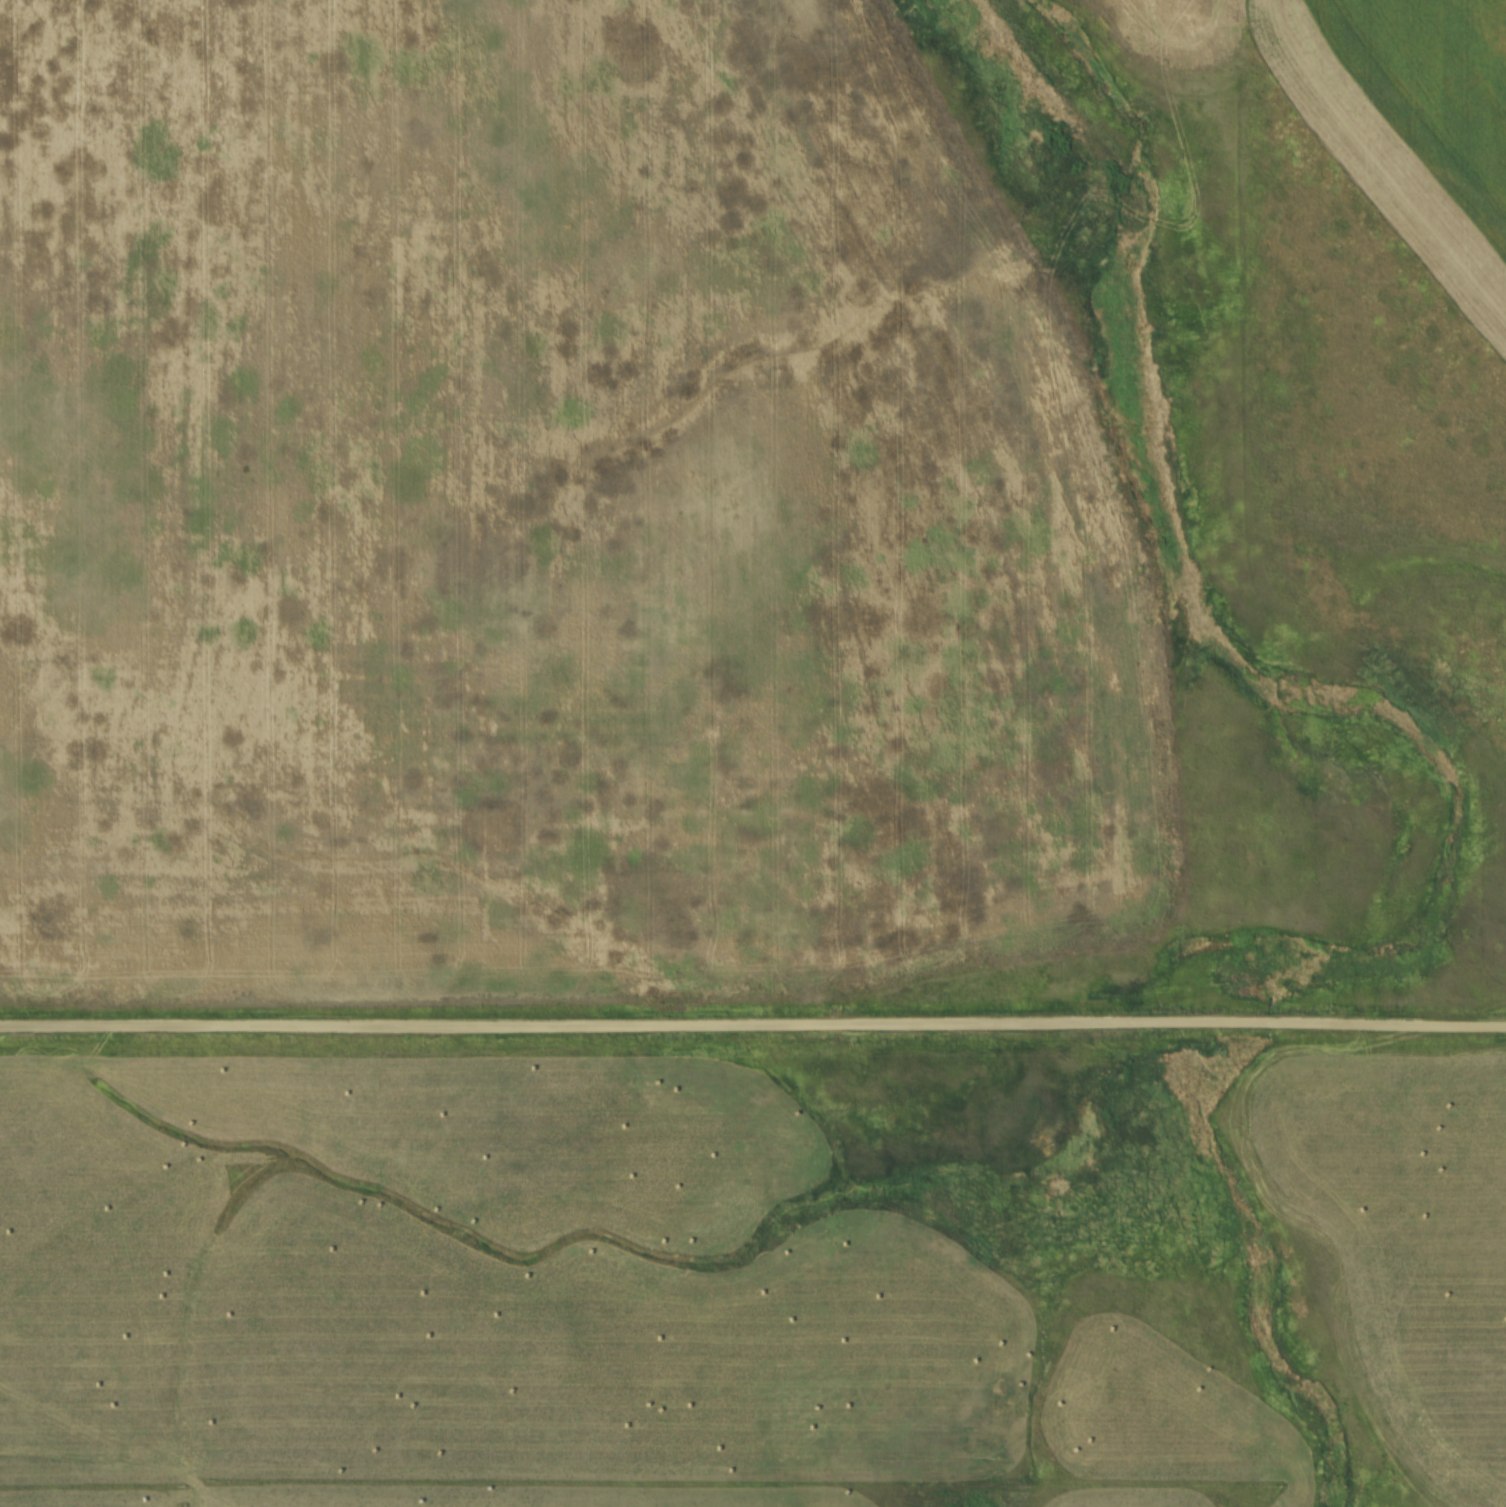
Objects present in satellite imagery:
road: (753, 1030)

